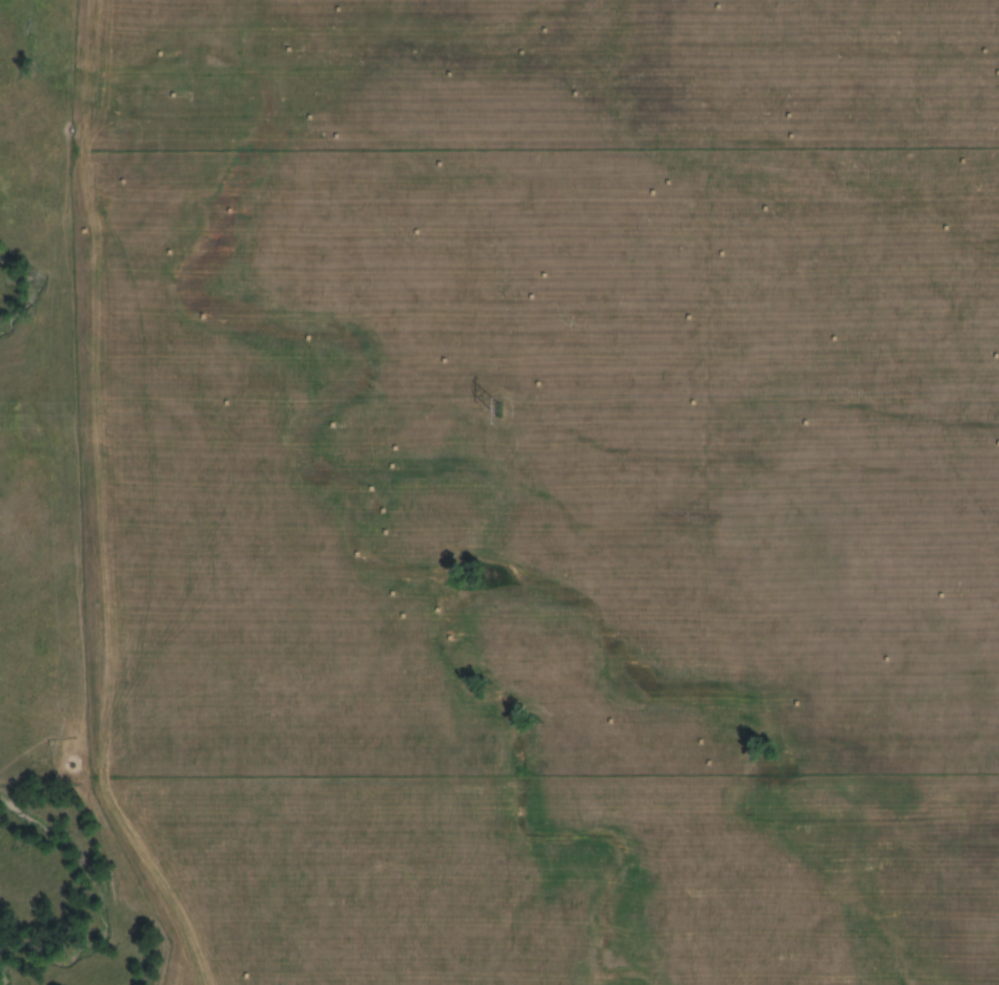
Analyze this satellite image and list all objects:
power tower: (497, 412)

